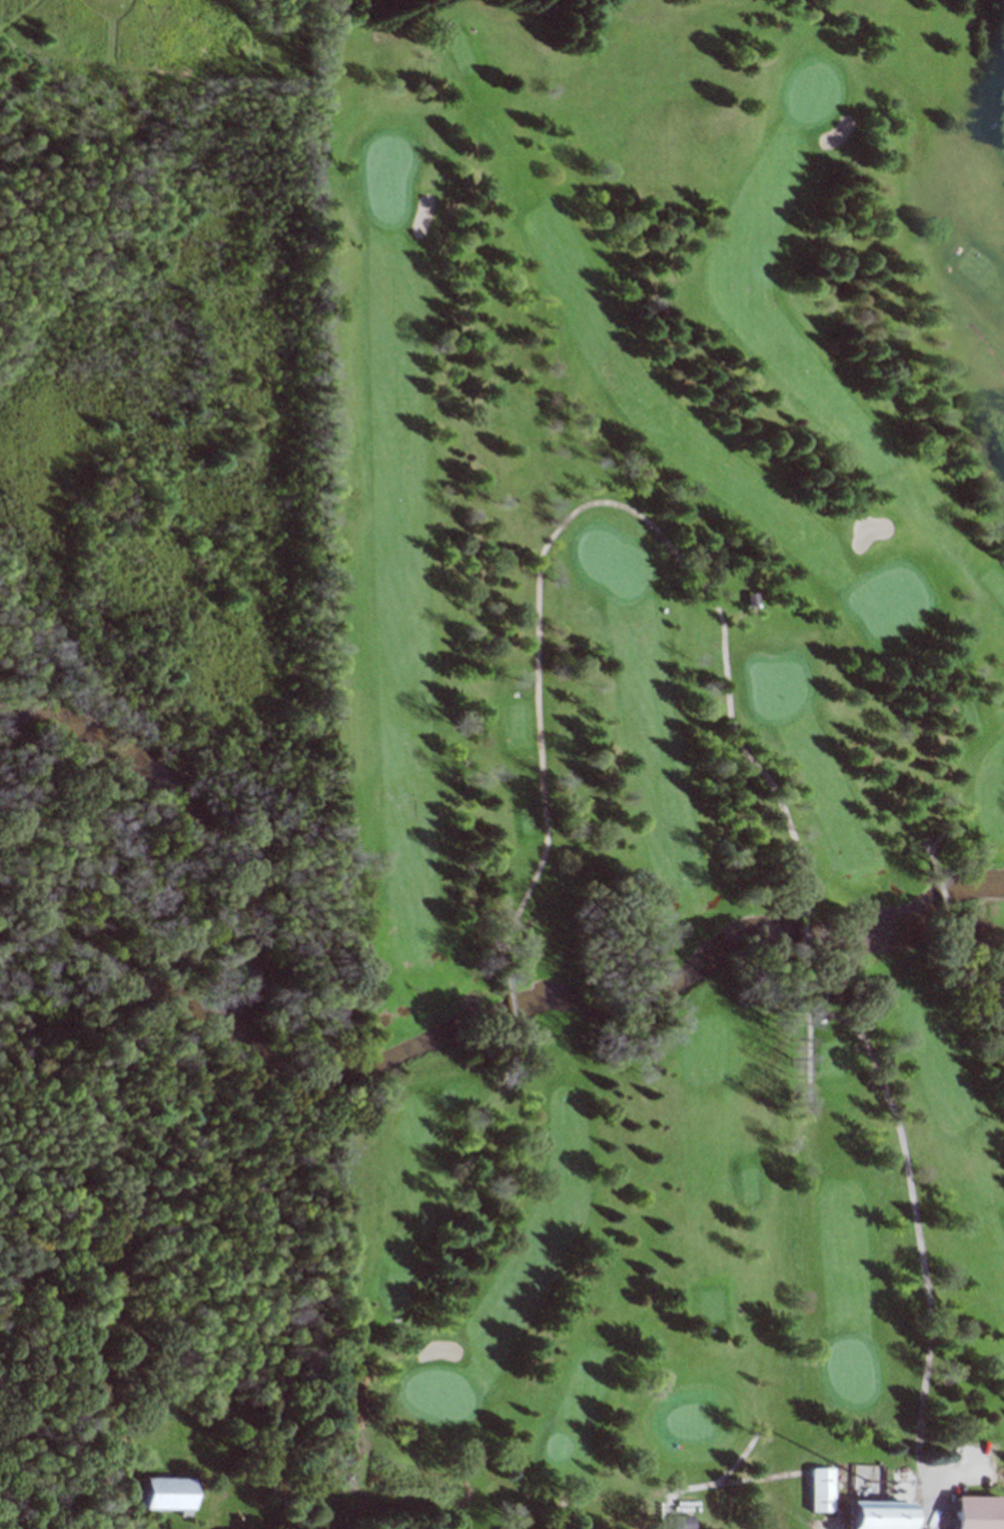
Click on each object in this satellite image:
building: (754, 597)
road: (730, 693)
park: (642, 764)
road: (946, 907)
road: (811, 1044)
river: (398, 1061)
building: (823, 1489)
building: (170, 1493)
building: (980, 1512)
building: (880, 1514)
building: (683, 1521)

